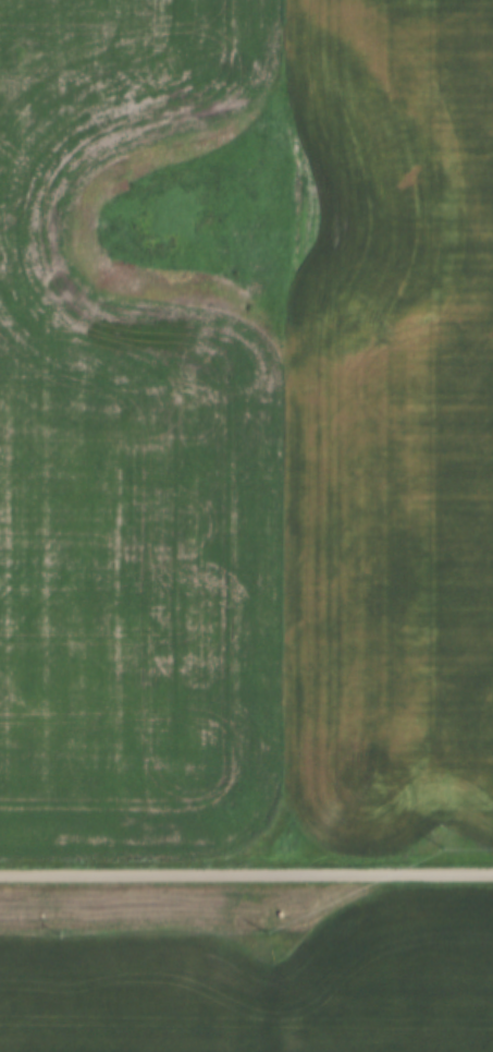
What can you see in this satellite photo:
road: (246, 866)

